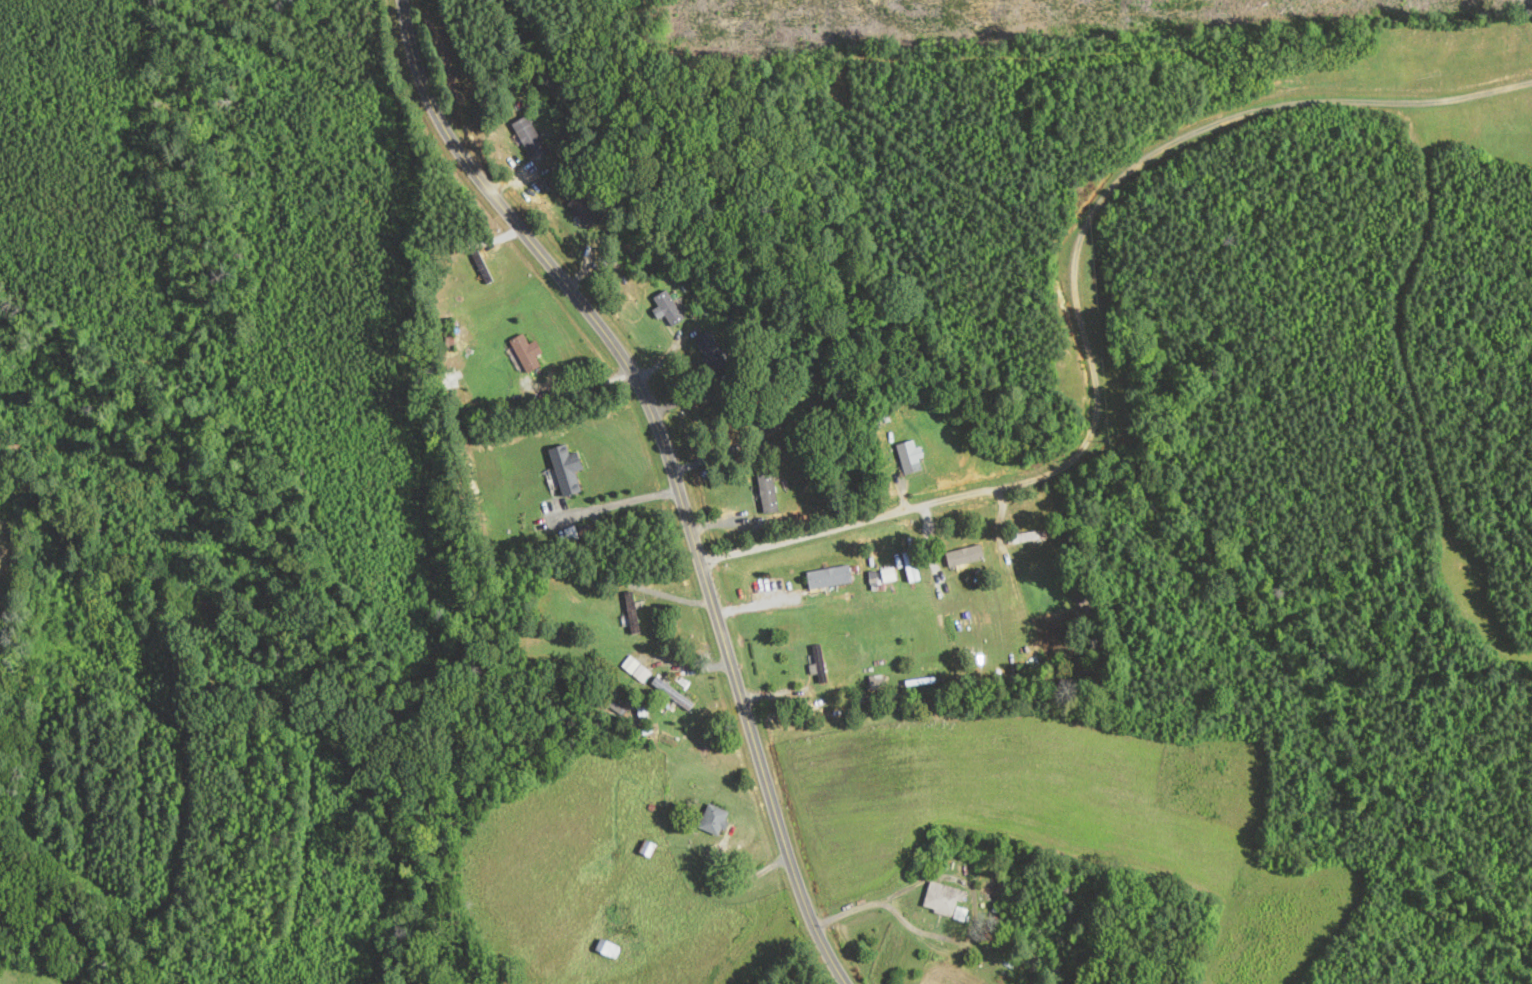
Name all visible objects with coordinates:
building: (529, 135)
building: (584, 211)
building: (637, 249)
building: (480, 264)
road: (1070, 295)
building: (668, 309)
building: (713, 352)
building: (527, 353)
building: (773, 426)
building: (910, 457)
road: (668, 464)
building: (768, 493)
road: (622, 503)
building: (1025, 537)
building: (965, 556)
building: (830, 577)
building: (632, 612)
building: (949, 626)
building: (819, 663)
building: (641, 673)
building: (878, 682)
building: (672, 693)
building: (713, 819)
building: (647, 848)
building: (945, 901)
building: (1008, 945)
building: (608, 949)
building: (1033, 959)

